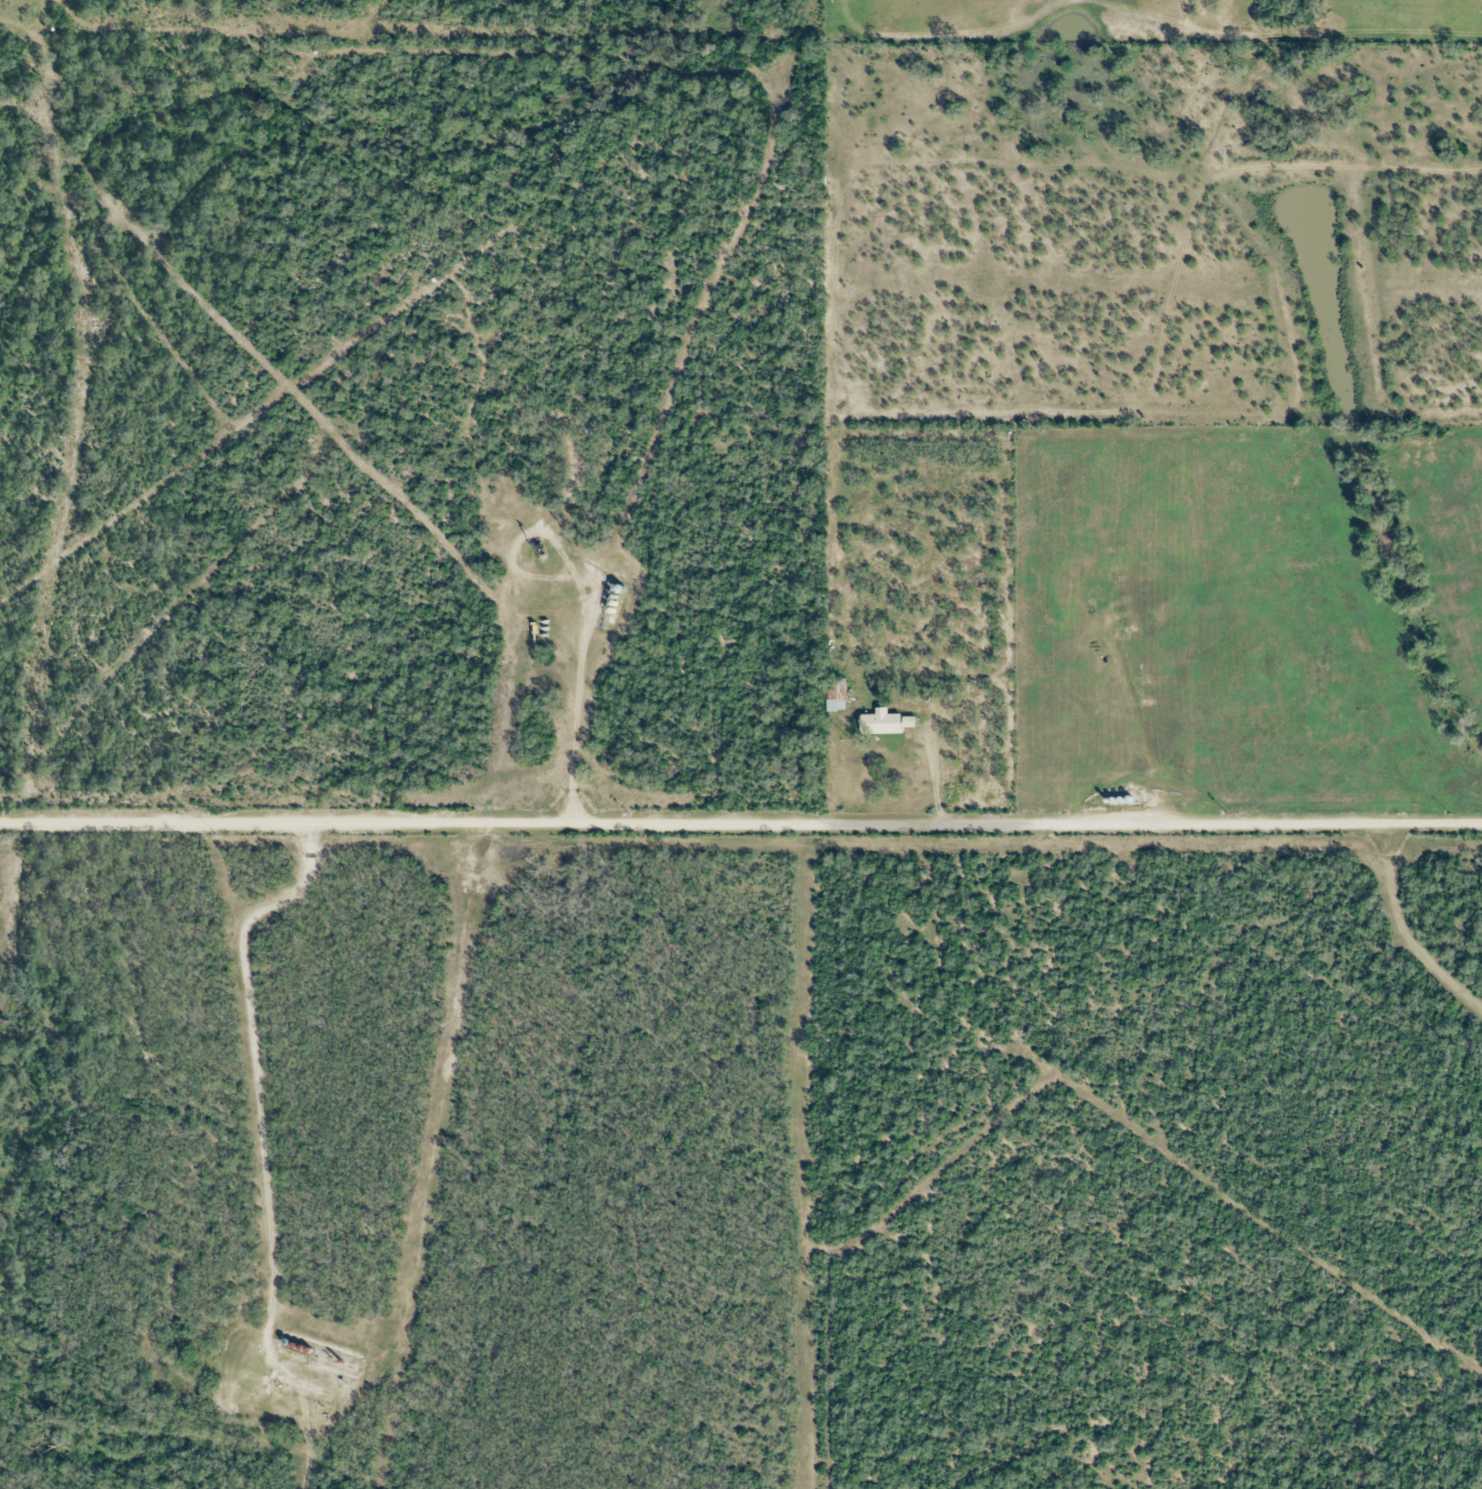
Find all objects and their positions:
petroleum well: (541, 537)
building: (838, 702)
building: (886, 720)
road: (741, 822)

